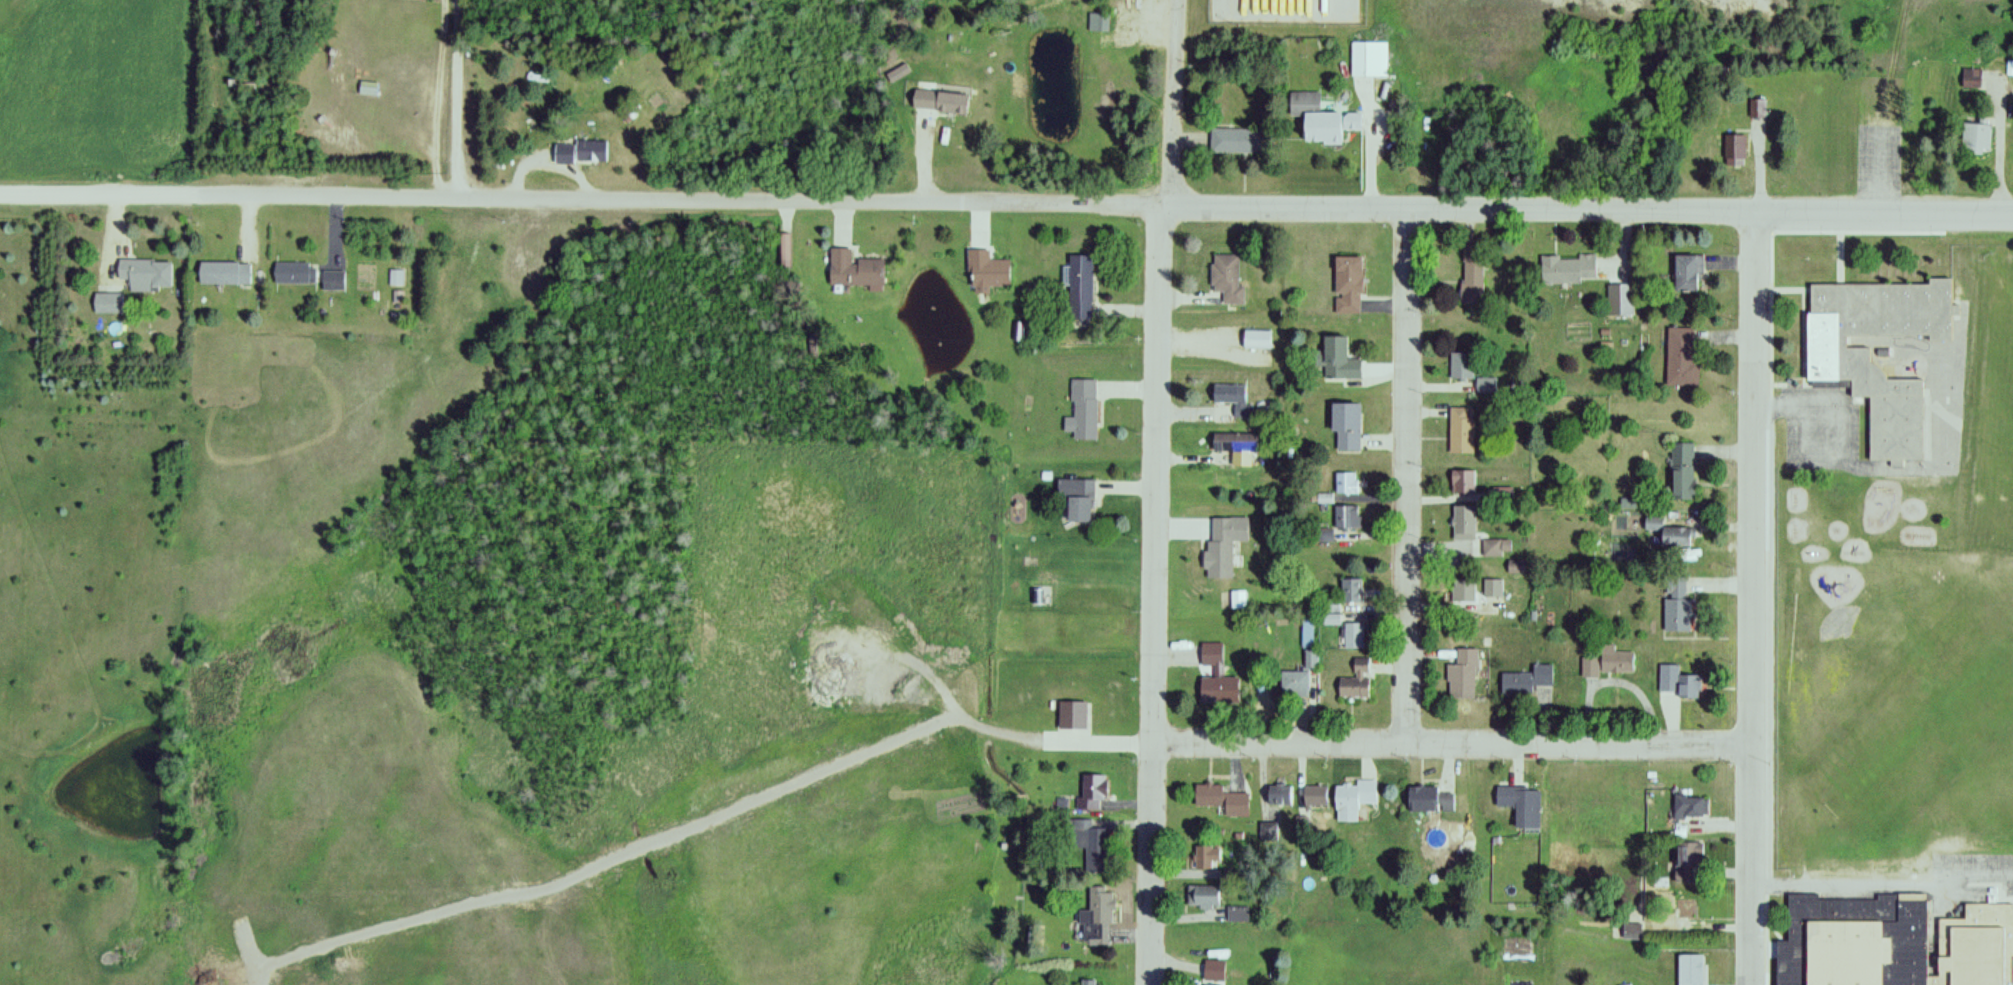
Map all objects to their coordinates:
building: (1099, 22)
building: (1369, 60)
building: (1971, 77)
building: (368, 89)
building: (937, 101)
road: (1175, 104)
building: (1758, 109)
building: (1318, 119)
building: (1974, 138)
building: (1232, 140)
road: (1370, 146)
building: (1735, 148)
building: (579, 152)
road: (2001, 154)
road: (928, 158)
road: (551, 167)
road: (1760, 169)
road: (1293, 181)
road: (1006, 205)
road: (1628, 243)
building: (785, 251)
building: (852, 270)
building: (1568, 270)
building: (985, 271)
building: (224, 274)
building: (294, 274)
building: (1687, 274)
building: (145, 275)
building: (1472, 276)
building: (1226, 280)
building: (1347, 285)
building: (1079, 287)
building: (106, 304)
building: (1875, 353)
building: (1682, 358)
building: (1337, 360)
building: (1462, 366)
building: (1231, 398)
building: (1082, 411)
building: (1345, 426)
building: (1461, 431)
building: (1235, 448)
building: (1682, 472)
road: (1409, 477)
building: (1463, 483)
building: (1347, 484)
building: (1078, 503)
building: (1346, 517)
building: (1463, 525)
building: (1668, 536)
building: (1222, 545)
building: (1492, 549)
building: (1493, 589)
building: (1463, 592)
building: (1346, 595)
road: (1158, 596)
road: (1754, 598)
building: (1676, 605)
building: (1354, 637)
building: (1609, 664)
building: (1216, 677)
building: (1462, 677)
building: (1527, 681)
building: (1356, 682)
building: (1293, 686)
building: (1681, 686)
building: (1071, 716)
road: (1455, 746)
building: (1091, 792)
building: (1278, 795)
building: (1313, 797)
building: (1352, 799)
building: (1426, 799)
building: (1221, 800)
building: (1519, 805)
building: (1690, 807)
building: (1090, 842)
building: (1206, 857)
building: (1687, 862)
building: (1203, 896)
building: (1683, 908)
building: (1096, 917)
building: (1893, 943)
building: (1689, 970)
building: (1086, 982)

